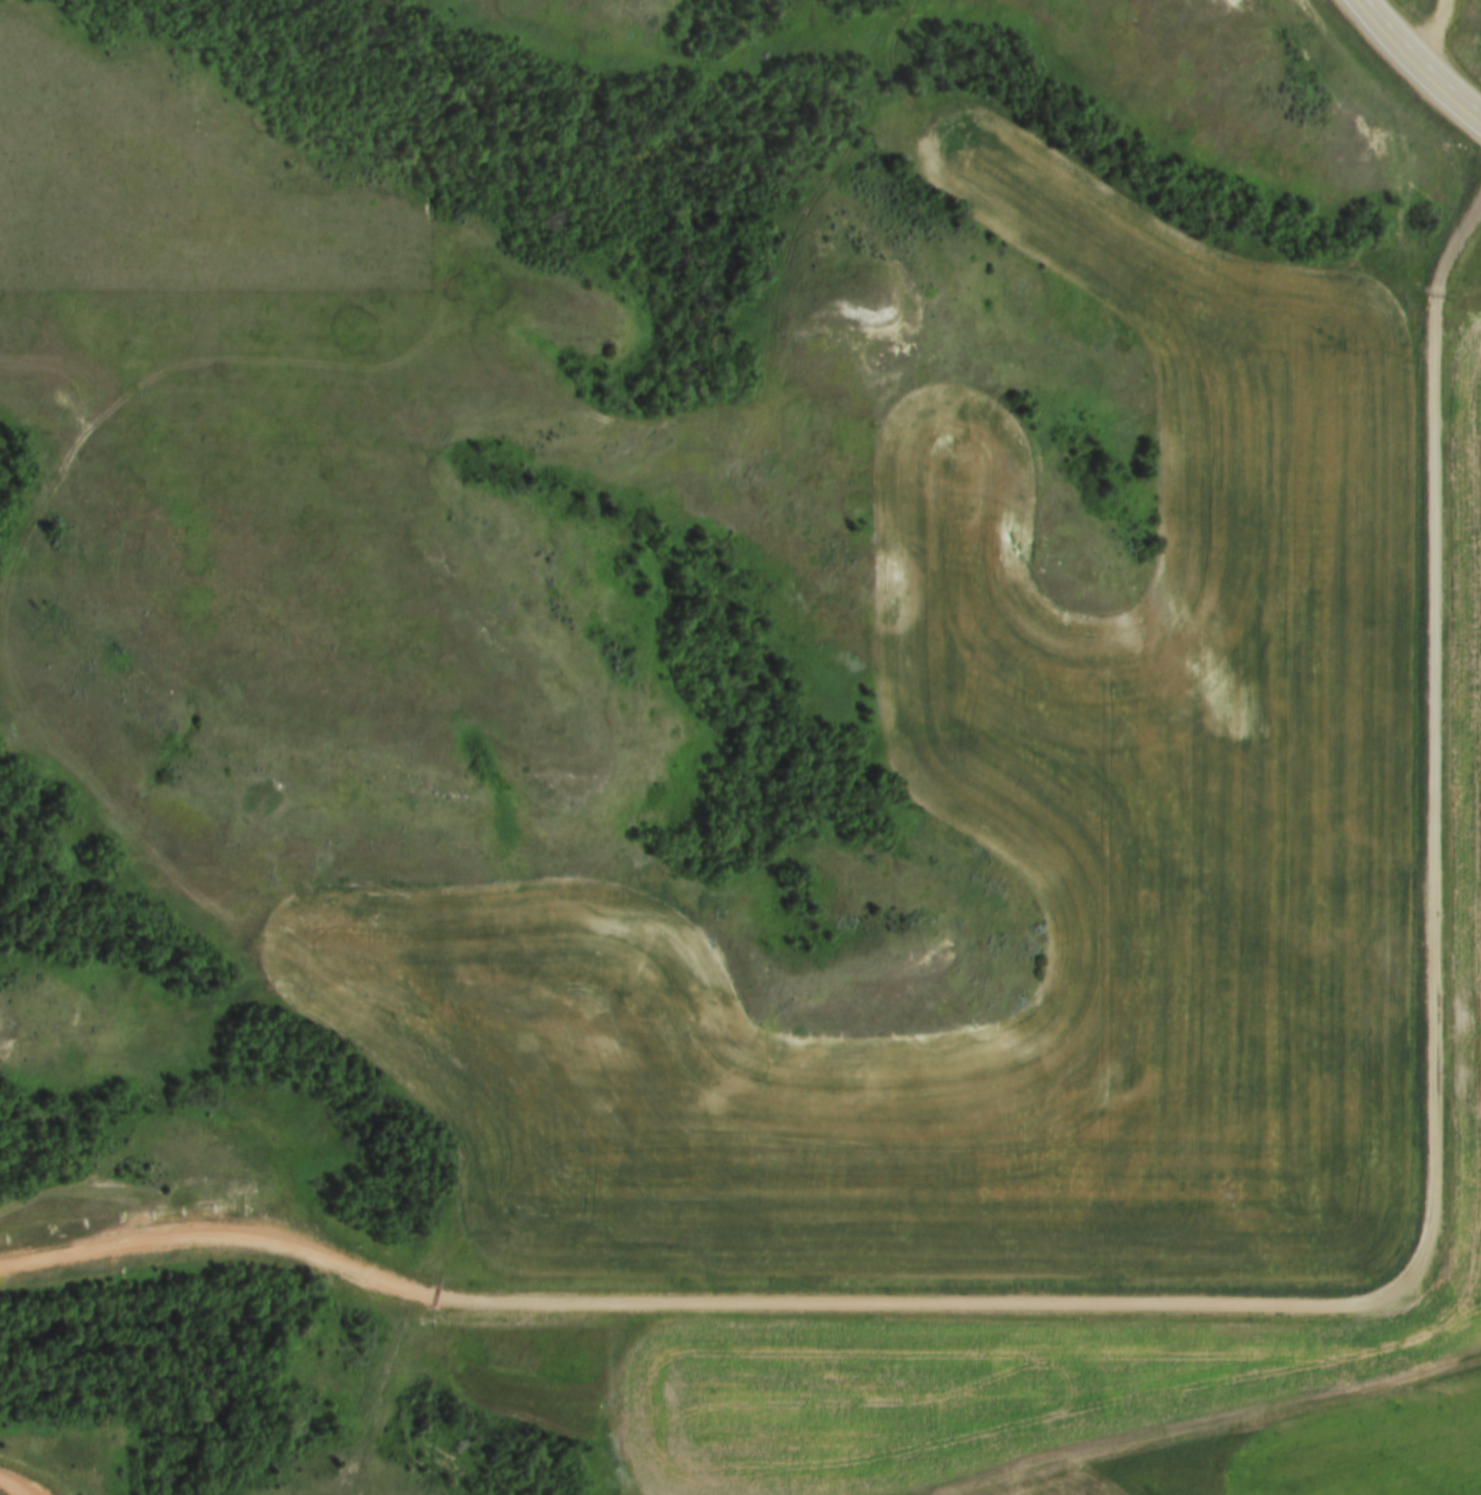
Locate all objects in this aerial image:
road: (1417, 63)
road: (703, 412)
road: (1243, 1306)
road: (17, 1481)

